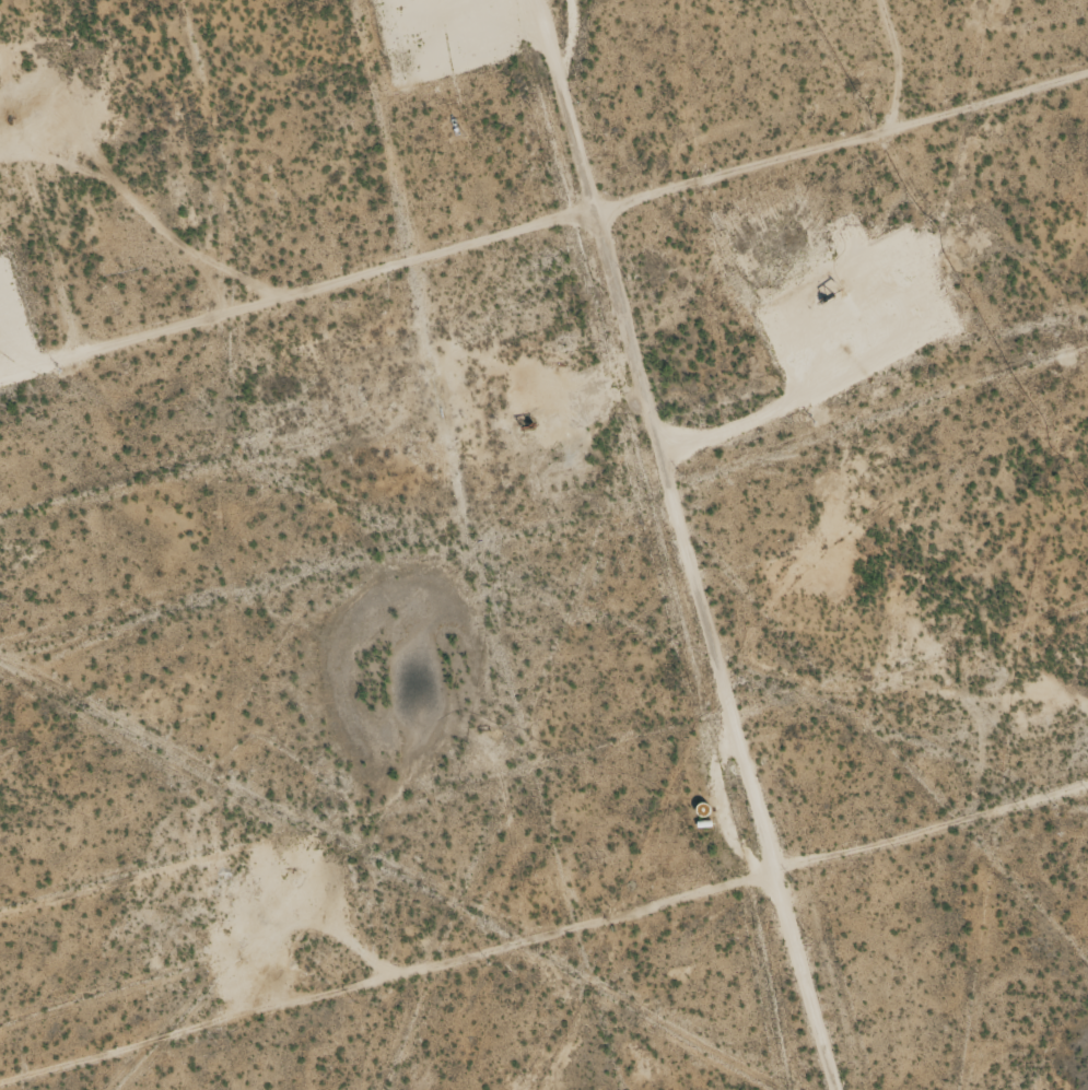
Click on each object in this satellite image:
road: (543, 262)
road: (618, 546)

